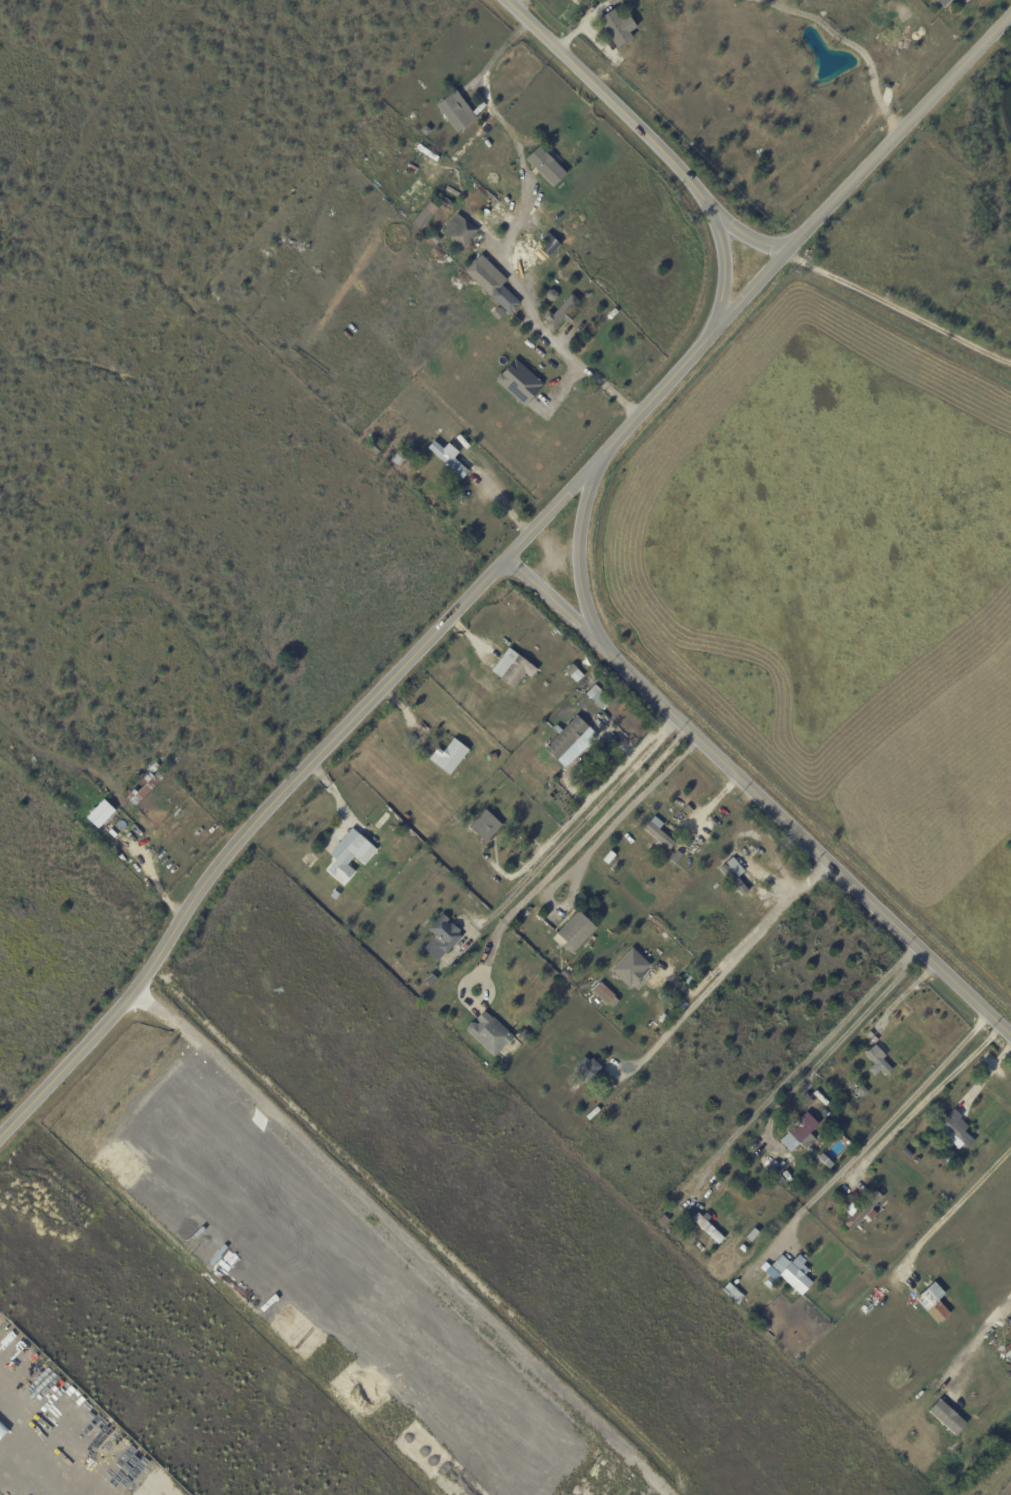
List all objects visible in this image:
building: (941, 2)
building: (615, 27)
road: (608, 97)
building: (454, 111)
building: (426, 130)
building: (543, 165)
road: (860, 172)
building: (422, 218)
building: (459, 231)
road: (741, 232)
building: (434, 239)
building: (546, 243)
road: (724, 264)
building: (552, 295)
building: (504, 300)
road: (897, 309)
building: (561, 313)
road: (550, 337)
building: (516, 381)
road: (656, 394)
building: (376, 446)
building: (415, 453)
building: (399, 457)
building: (448, 457)
road: (579, 547)
road: (550, 598)
building: (512, 667)
building: (570, 669)
building: (597, 696)
building: (621, 715)
road: (662, 729)
building: (567, 739)
building: (450, 756)
building: (494, 757)
building: (592, 762)
building: (147, 785)
road: (288, 786)
building: (103, 813)
building: (485, 826)
building: (659, 834)
road: (567, 837)
road: (801, 840)
road: (572, 848)
building: (350, 856)
building: (608, 858)
building: (648, 884)
building: (739, 885)
building: (335, 895)
building: (572, 935)
building: (441, 937)
building: (651, 948)
road: (915, 955)
building: (600, 960)
road: (730, 962)
building: (628, 967)
building: (565, 974)
building: (599, 976)
building: (660, 977)
building: (431, 980)
building: (601, 992)
building: (612, 1001)
road: (852, 1023)
building: (488, 1034)
building: (523, 1036)
building: (878, 1061)
road: (794, 1070)
building: (589, 1071)
building: (861, 1091)
road: (918, 1107)
building: (955, 1130)
building: (800, 1131)
road: (875, 1135)
building: (950, 1157)
building: (811, 1163)
building: (775, 1173)
building: (863, 1212)
road: (946, 1213)
building: (707, 1228)
building: (753, 1235)
building: (742, 1249)
building: (791, 1273)
building: (730, 1290)
building: (932, 1307)
building: (758, 1316)
road: (977, 1341)
building: (948, 1417)

